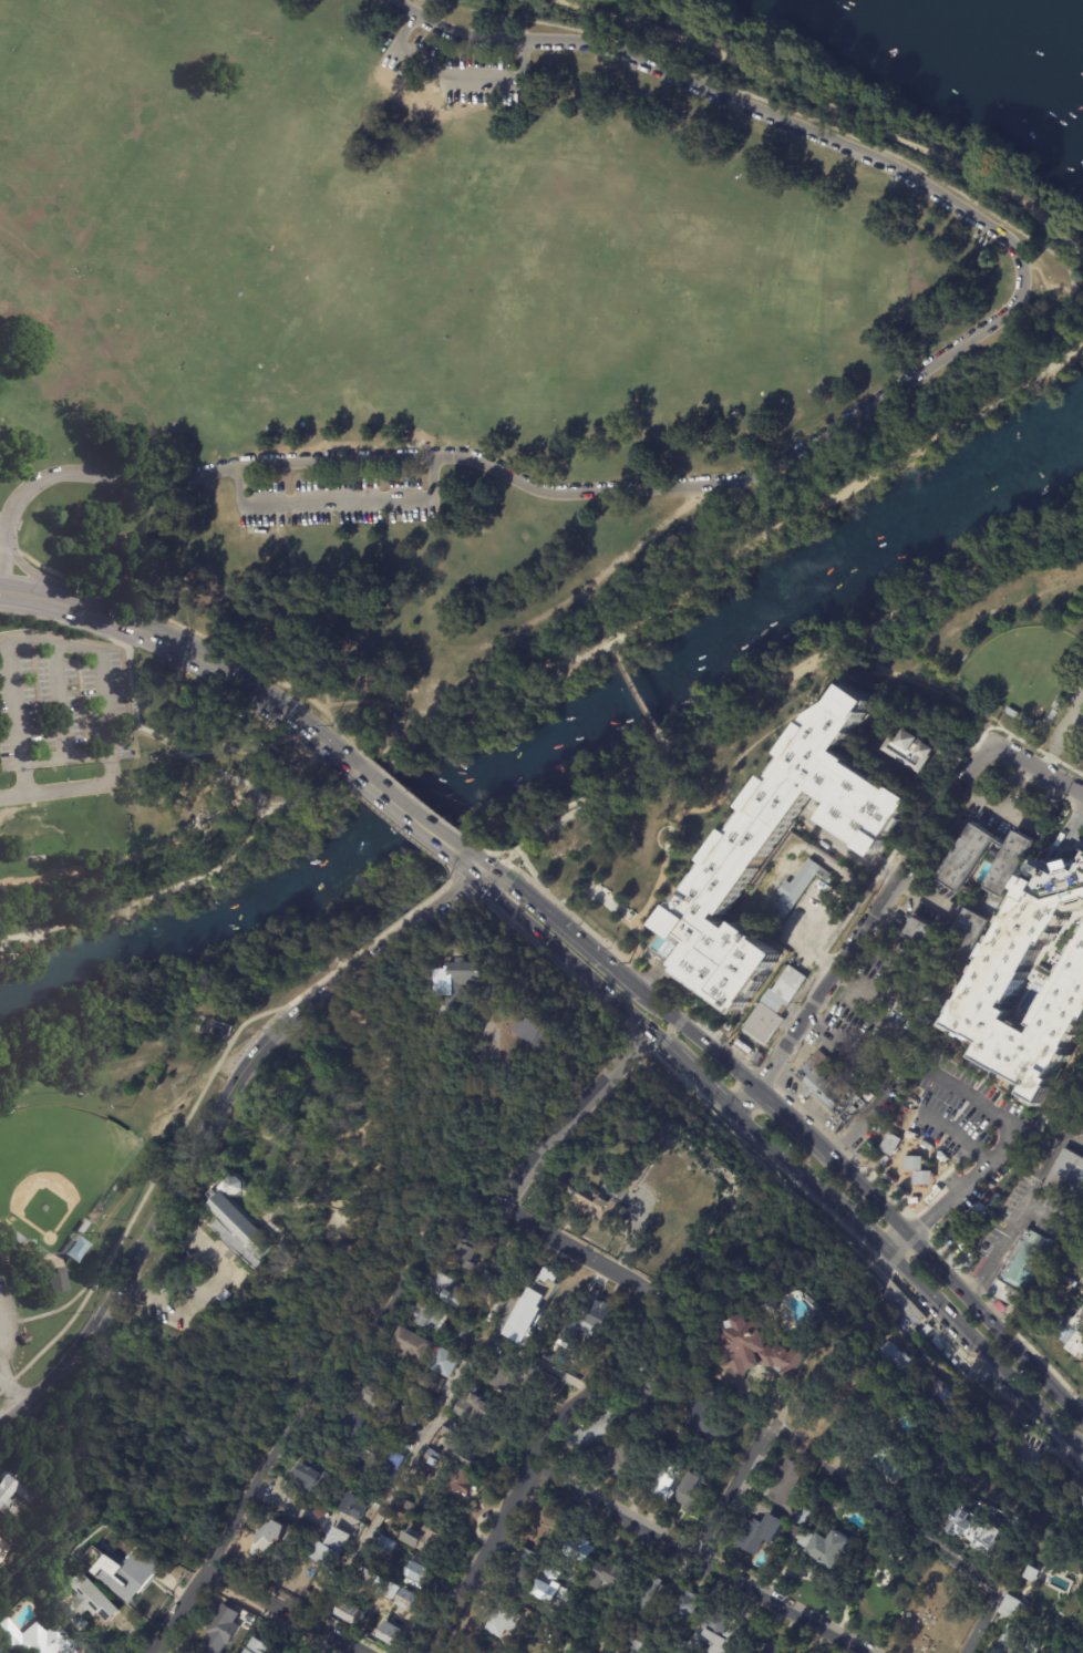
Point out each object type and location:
river: (984, 45)
building: (464, 65)
parking lot: (456, 72)
road: (452, 82)
road: (806, 96)
road: (729, 99)
road: (1061, 236)
park: (430, 250)
park: (497, 272)
road: (1063, 353)
railway: (853, 432)
park: (399, 464)
road: (426, 474)
road: (514, 479)
road: (234, 484)
parking lot: (329, 503)
road: (825, 503)
road: (332, 505)
road: (1, 549)
road: (971, 572)
road: (35, 575)
road: (38, 599)
road: (188, 636)
road: (45, 642)
road: (115, 645)
road: (615, 650)
road: (128, 655)
road: (545, 665)
park: (1019, 669)
road: (221, 671)
road: (760, 690)
road: (321, 692)
road: (637, 694)
road: (61, 700)
road: (968, 702)
building: (1056, 703)
parking lot: (61, 706)
road: (321, 711)
building: (1013, 714)
building: (244, 715)
road: (442, 719)
park: (730, 724)
road: (659, 737)
road: (233, 751)
building: (916, 751)
road: (65, 756)
park: (1080, 760)
road: (1034, 766)
road: (217, 772)
road: (375, 776)
road: (52, 791)
road: (416, 798)
road: (996, 804)
road: (570, 806)
road: (302, 807)
road: (404, 810)
road: (390, 820)
road: (1070, 827)
building: (747, 843)
road: (850, 848)
road: (483, 851)
building: (967, 858)
road: (468, 861)
building: (1008, 864)
traffic signals: (479, 869)
road: (447, 871)
road: (840, 874)
building: (792, 895)
road: (926, 897)
road: (146, 899)
building: (653, 907)
road: (564, 927)
road: (860, 928)
road: (286, 939)
building: (925, 939)
road: (883, 949)
road: (557, 954)
building: (1002, 973)
building: (452, 981)
road: (873, 1005)
building: (774, 1008)
building: (538, 1031)
road: (671, 1032)
road: (701, 1037)
road: (660, 1041)
road: (848, 1047)
road: (16, 1053)
road: (704, 1084)
building: (832, 1089)
road: (202, 1093)
road: (568, 1116)
road: (793, 1116)
road: (208, 1119)
road: (860, 1122)
road: (957, 1130)
building: (890, 1144)
road: (996, 1147)
road: (784, 1157)
park: (55, 1168)
building: (639, 1168)
building: (917, 1170)
building: (1066, 1180)
road: (867, 1189)
building: (598, 1205)
road: (1017, 1207)
building: (685, 1226)
building: (83, 1227)
building: (241, 1227)
road: (858, 1227)
road: (633, 1236)
building: (18, 1237)
road: (897, 1239)
building: (76, 1249)
building: (462, 1250)
road: (582, 1253)
road: (937, 1259)
building: (1022, 1270)
building: (58, 1280)
building: (485, 1280)
building: (454, 1285)
road: (206, 1289)
building: (454, 1299)
building: (1039, 1300)
road: (70, 1301)
building: (534, 1305)
building: (766, 1308)
building: (900, 1312)
parking lot: (8, 1316)
building: (429, 1318)
building: (584, 1324)
building: (461, 1330)
building: (1072, 1334)
building: (413, 1345)
road: (0, 1346)
building: (757, 1349)
road: (984, 1350)
road: (345, 1351)
road: (1024, 1357)
building: (897, 1361)
building: (443, 1363)
building: (517, 1376)
building: (649, 1381)
building: (827, 1381)
building: (432, 1383)
road: (14, 1385)
building: (379, 1399)
building: (865, 1401)
building: (478, 1412)
road: (1080, 1413)
building: (704, 1416)
road: (780, 1427)
building: (826, 1429)
building: (978, 1429)
building: (351, 1430)
building: (403, 1430)
road: (432, 1430)
building: (678, 1432)
building: (592, 1433)
building: (997, 1439)
building: (458, 1444)
building: (694, 1444)
road: (1082, 1451)
road: (1082, 1453)
building: (616, 1457)
building: (430, 1465)
building: (391, 1466)
building: (888, 1466)
road: (528, 1467)
building: (316, 1478)
building: (457, 1481)
building: (786, 1481)
building: (656, 1485)
road: (733, 1489)
building: (691, 1494)
building: (14, 1495)
building: (352, 1507)
building: (836, 1508)
building: (911, 1510)
building: (399, 1517)
building: (802, 1517)
building: (976, 1529)
building: (761, 1530)
building: (796, 1533)
building: (13, 1536)
road: (920, 1538)
building: (276, 1539)
building: (422, 1541)
building: (382, 1546)
building: (327, 1547)
building: (831, 1547)
building: (577, 1550)
building: (4, 1551)
road: (698, 1559)
building: (127, 1572)
building: (417, 1572)
building: (520, 1573)
building: (1031, 1574)
building: (604, 1577)
building: (548, 1579)
building: (365, 1582)
building: (388, 1589)
building: (649, 1599)
building: (405, 1601)
building: (87, 1603)
building: (555, 1603)
building: (685, 1608)
road: (182, 1610)
road: (285, 1610)
building: (1013, 1610)
building: (345, 1613)
road: (546, 1613)
building: (501, 1620)
building: (544, 1630)
building: (221, 1631)
building: (710, 1633)
building: (557, 1634)
building: (389, 1635)
building: (35, 1640)
building: (636, 1640)
building: (1014, 1644)
building: (257, 1646)
building: (568, 1647)
building: (774, 1650)

